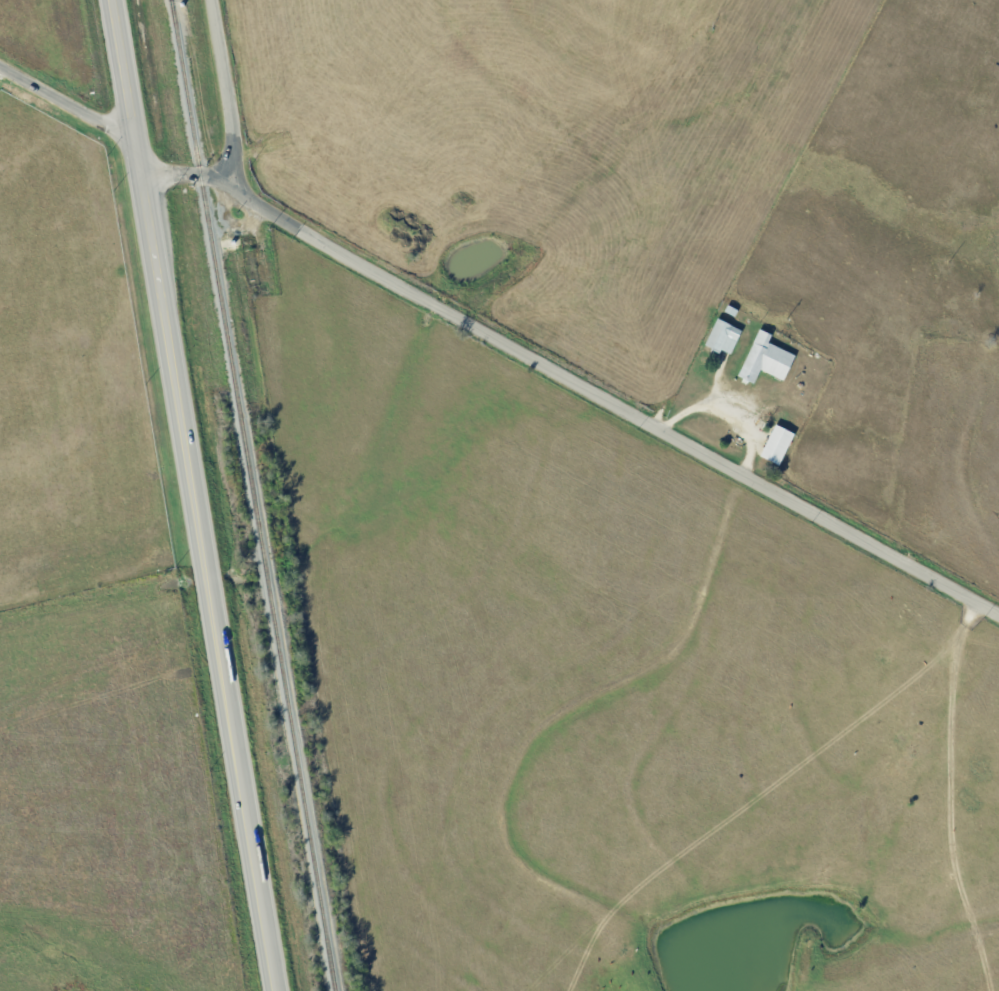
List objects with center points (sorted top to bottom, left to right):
road: (68, 96)
road: (227, 96)
road: (194, 175)
building: (724, 335)
building: (767, 357)
road: (620, 401)
building: (778, 443)
road: (196, 495)
railway: (256, 495)

